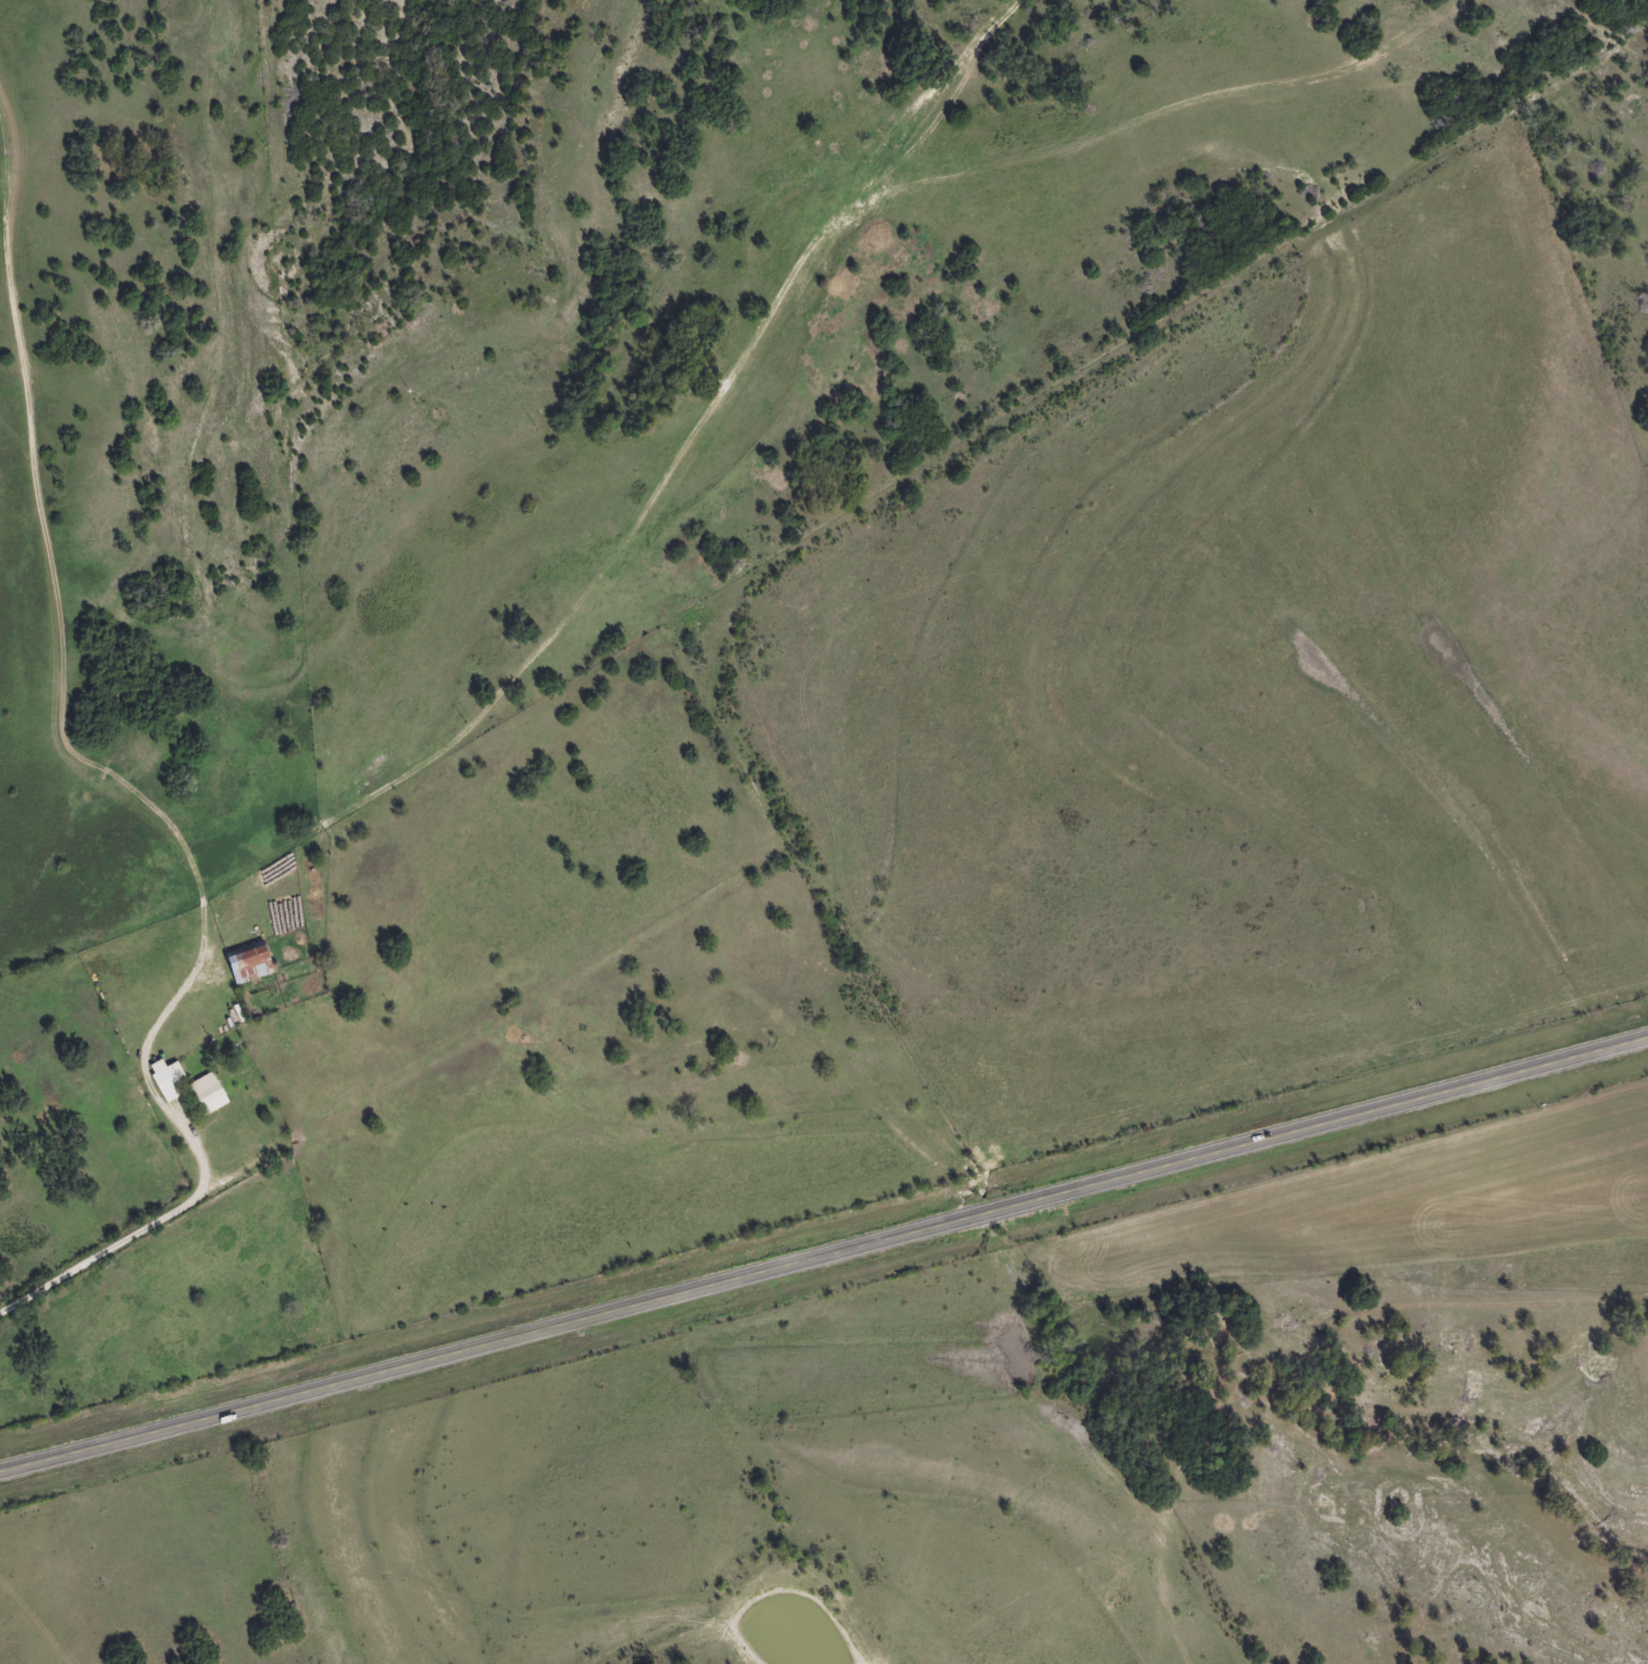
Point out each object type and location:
road: (45, 687)
building: (251, 961)
building: (166, 1078)
building: (210, 1091)
road: (187, 1183)
road: (824, 1254)

